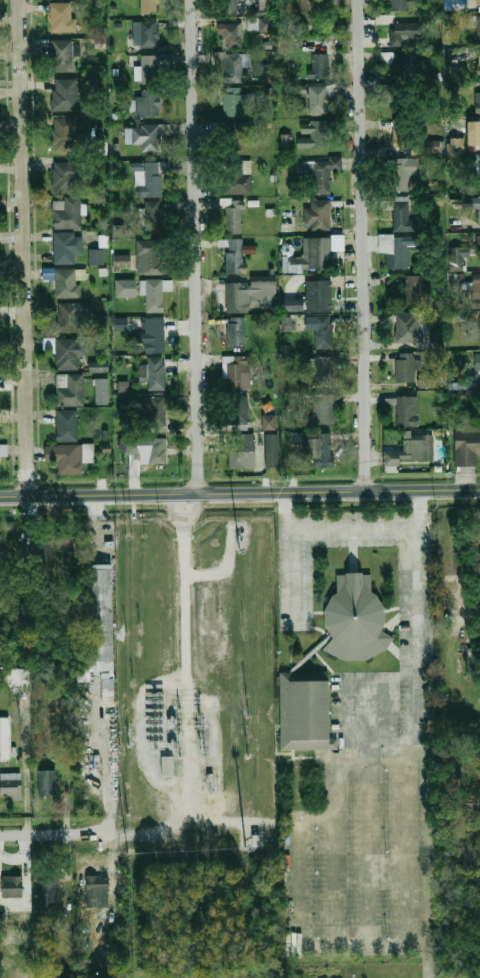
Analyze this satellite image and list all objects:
building: (460, 4)
building: (264, 5)
building: (399, 5)
building: (151, 6)
building: (229, 7)
building: (62, 17)
building: (310, 17)
building: (258, 24)
building: (475, 24)
building: (403, 32)
building: (145, 34)
building: (230, 35)
building: (62, 55)
building: (401, 60)
building: (478, 65)
building: (319, 66)
building: (150, 67)
building: (234, 67)
building: (65, 95)
building: (478, 98)
building: (318, 99)
building: (147, 103)
building: (233, 103)
building: (407, 118)
building: (72, 131)
building: (479, 132)
building: (145, 135)
building: (311, 135)
building: (233, 136)
building: (285, 140)
building: (403, 144)
building: (430, 146)
building: (455, 146)
building: (319, 168)
building: (475, 172)
building: (404, 173)
building: (66, 176)
building: (150, 177)
building: (238, 177)
building: (479, 209)
building: (67, 213)
building: (403, 214)
building: (232, 216)
building: (317, 216)
building: (152, 217)
building: (118, 230)
building: (103, 242)
road: (363, 244)
road: (198, 245)
building: (478, 245)
road: (25, 247)
building: (66, 247)
building: (396, 251)
building: (320, 253)
building: (95, 256)
building: (234, 256)
building: (150, 257)
building: (459, 257)
building: (122, 260)
building: (292, 265)
building: (64, 281)
building: (125, 288)
building: (414, 289)
building: (476, 291)
building: (319, 294)
building: (154, 295)
building: (238, 297)
building: (292, 304)
building: (73, 315)
building: (120, 324)
building: (286, 324)
building: (408, 327)
building: (479, 327)
building: (321, 329)
building: (236, 331)
building: (153, 335)
building: (436, 336)
building: (68, 351)
building: (478, 362)
building: (98, 367)
building: (405, 368)
building: (323, 370)
building: (237, 372)
building: (156, 374)
building: (123, 386)
building: (70, 389)
building: (101, 391)
building: (478, 407)
building: (322, 408)
building: (407, 410)
building: (154, 411)
building: (238, 412)
building: (268, 422)
building: (67, 425)
building: (467, 447)
building: (417, 448)
building: (3, 449)
building: (145, 449)
building: (324, 449)
building: (271, 450)
building: (241, 451)
building: (69, 456)
road: (240, 491)
road: (239, 500)
road: (334, 528)
building: (47, 551)
road: (296, 574)
building: (354, 619)
building: (99, 630)
building: (19, 676)
road: (371, 678)
power substation: (198, 686)
road: (207, 706)
building: (303, 710)
power tower: (201, 723)
road: (417, 733)
building: (3, 737)
power tower: (200, 744)
road: (107, 760)
building: (166, 765)
building: (47, 782)
building: (11, 783)
road: (55, 835)
road: (299, 854)
building: (12, 885)
building: (50, 889)
building: (97, 891)
building: (2, 917)

